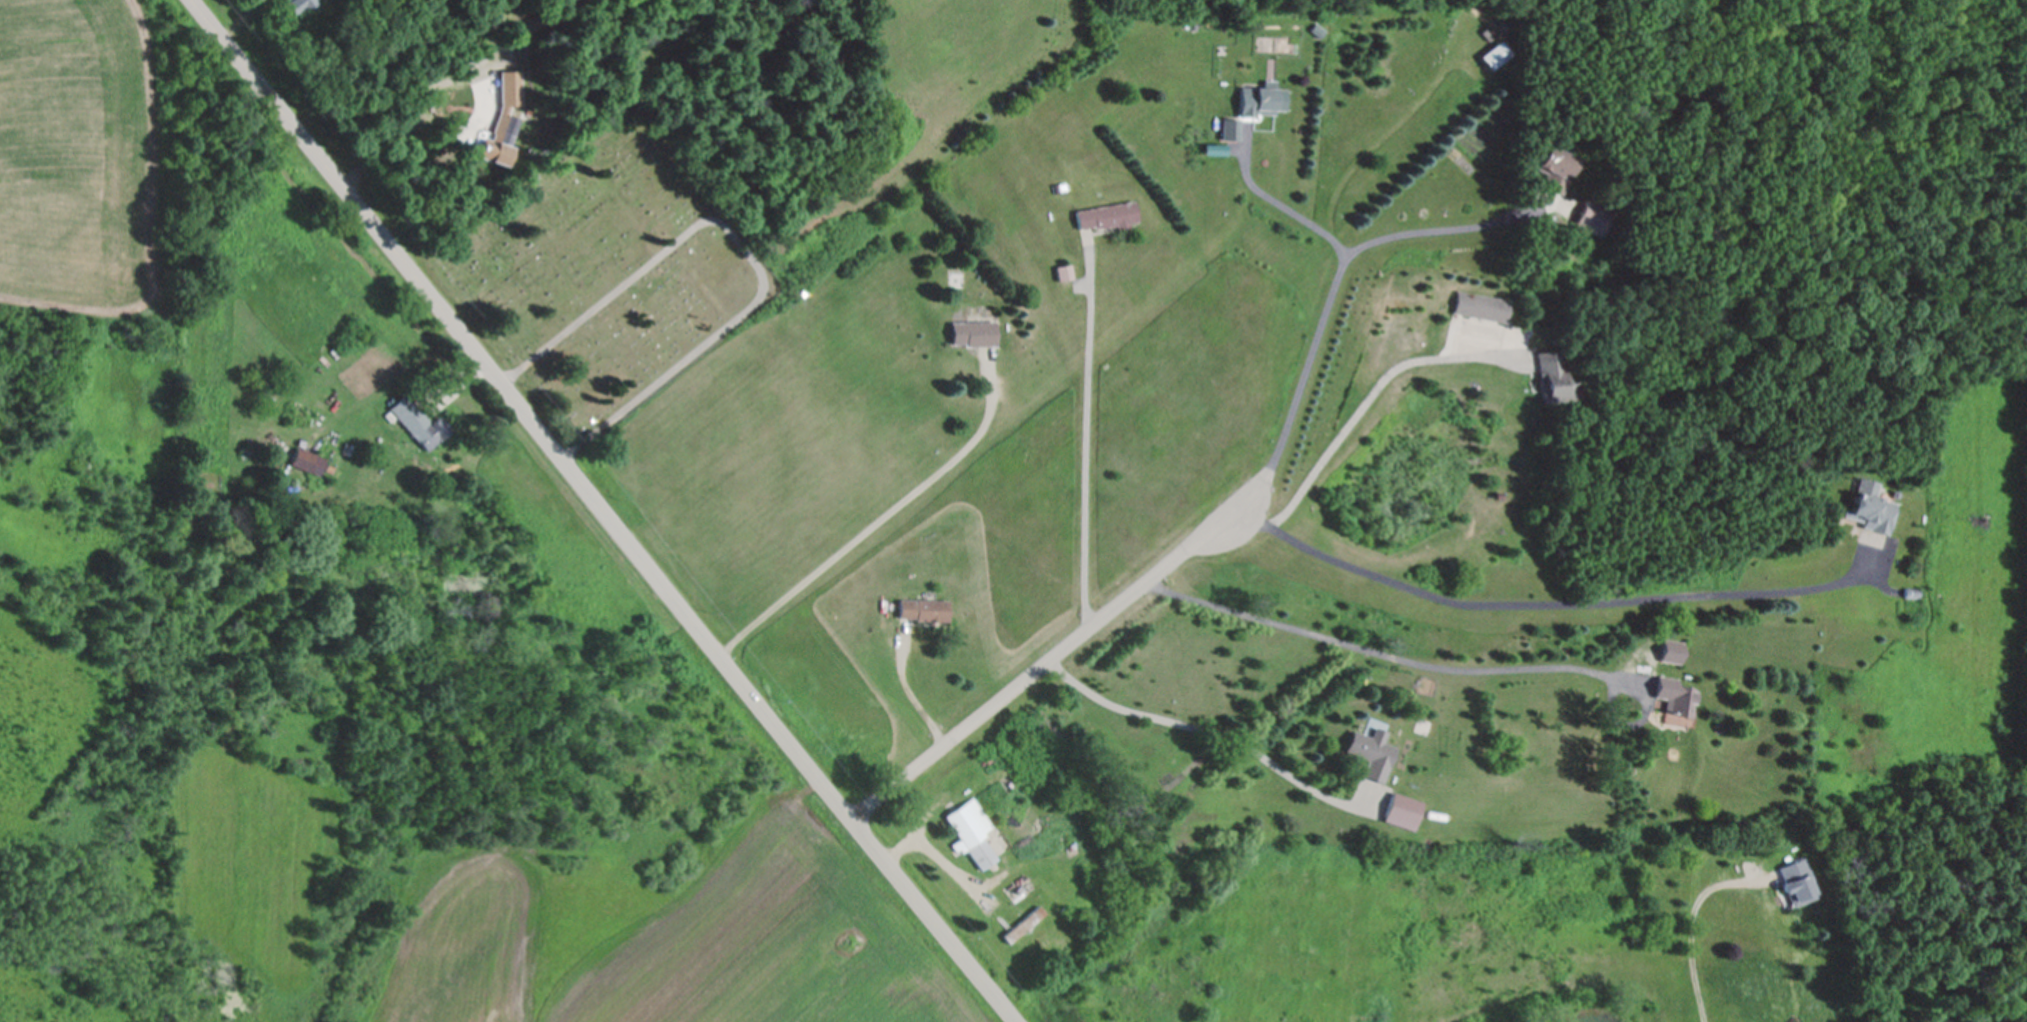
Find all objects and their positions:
building: (301, 3)
building: (510, 88)
building: (1257, 100)
building: (1228, 130)
building: (504, 140)
building: (1556, 167)
road: (1282, 195)
building: (1106, 215)
building: (1591, 219)
building: (1064, 271)
park: (600, 275)
road: (1340, 282)
building: (1482, 305)
building: (973, 332)
building: (1553, 377)
road: (1378, 387)
building: (304, 411)
building: (418, 422)
road: (1092, 430)
building: (1871, 511)
road: (884, 513)
road: (602, 514)
road: (1558, 595)
building: (923, 608)
road: (1398, 647)
building: (1672, 650)
road: (1048, 655)
building: (1675, 696)
road: (1207, 733)
building: (1372, 752)
building: (1403, 811)
building: (971, 832)
building: (1797, 882)
building: (1022, 923)
road: (1703, 925)

